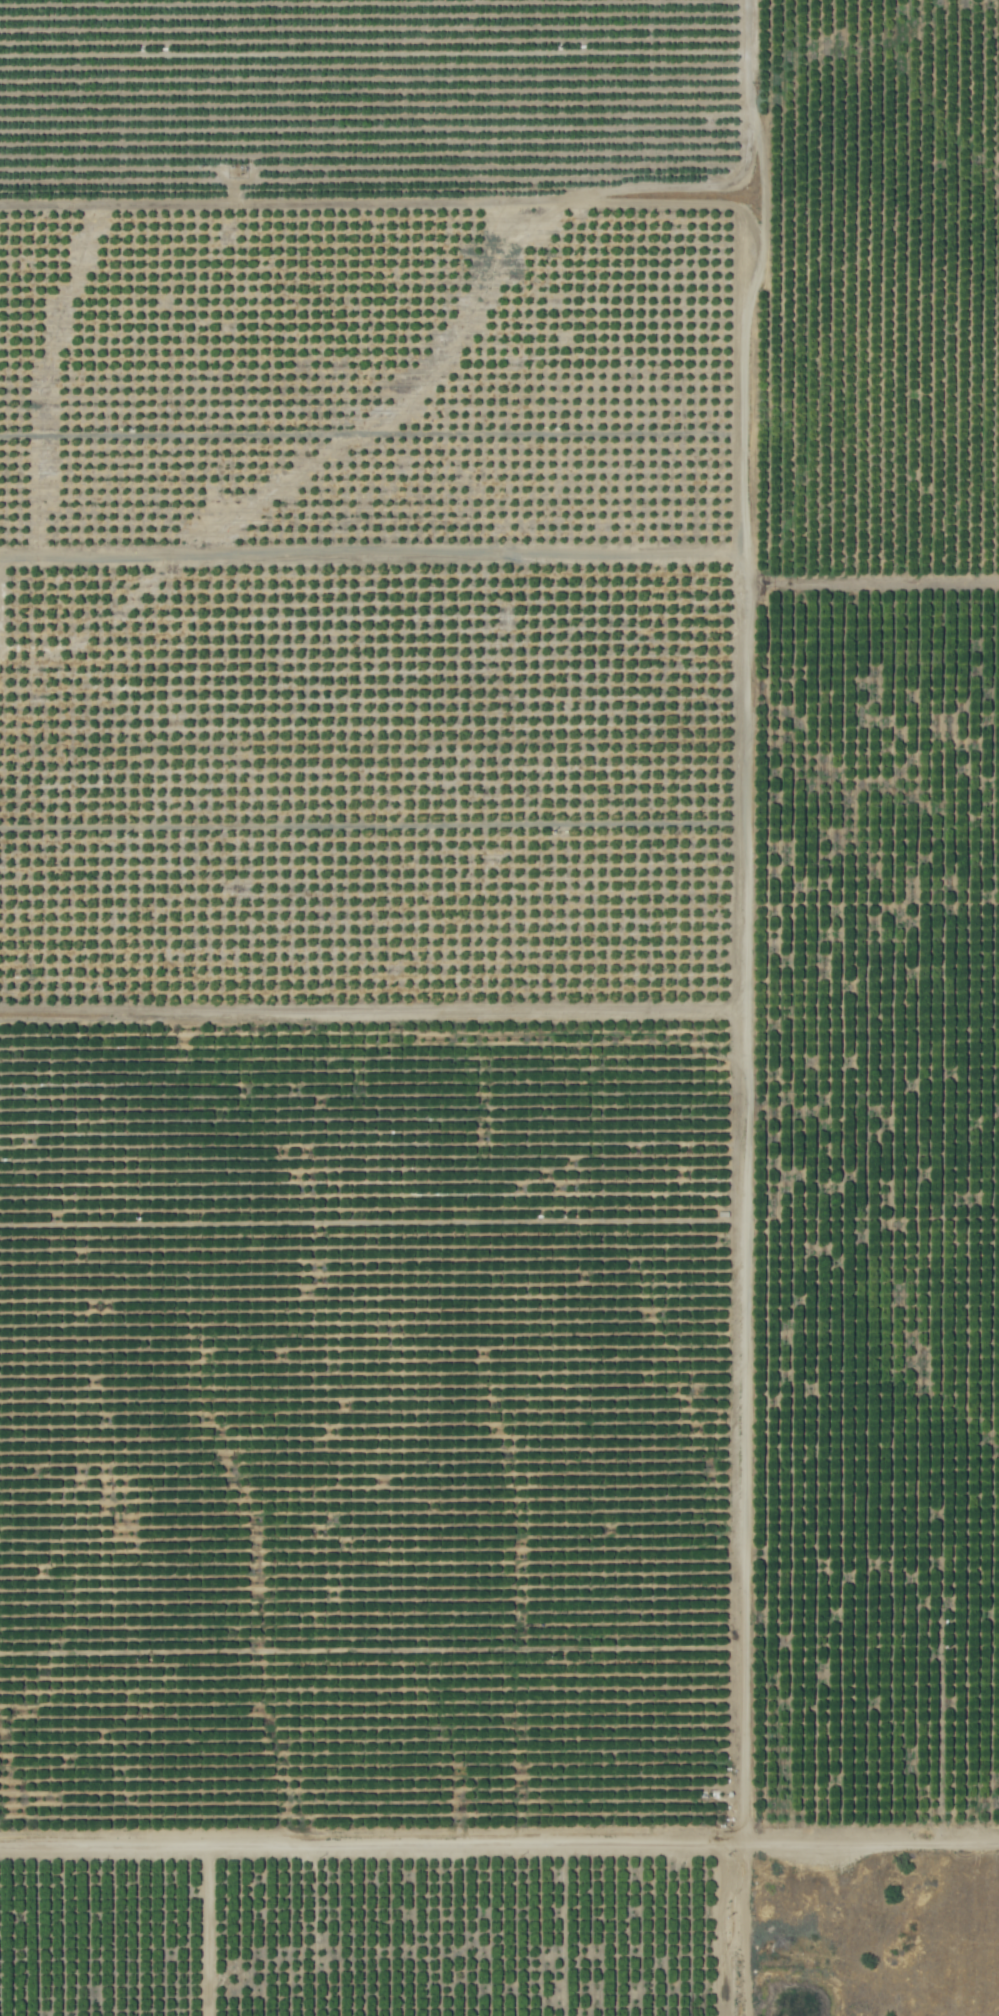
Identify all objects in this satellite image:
road: (717, 915)
road: (873, 1838)
road: (750, 1923)

